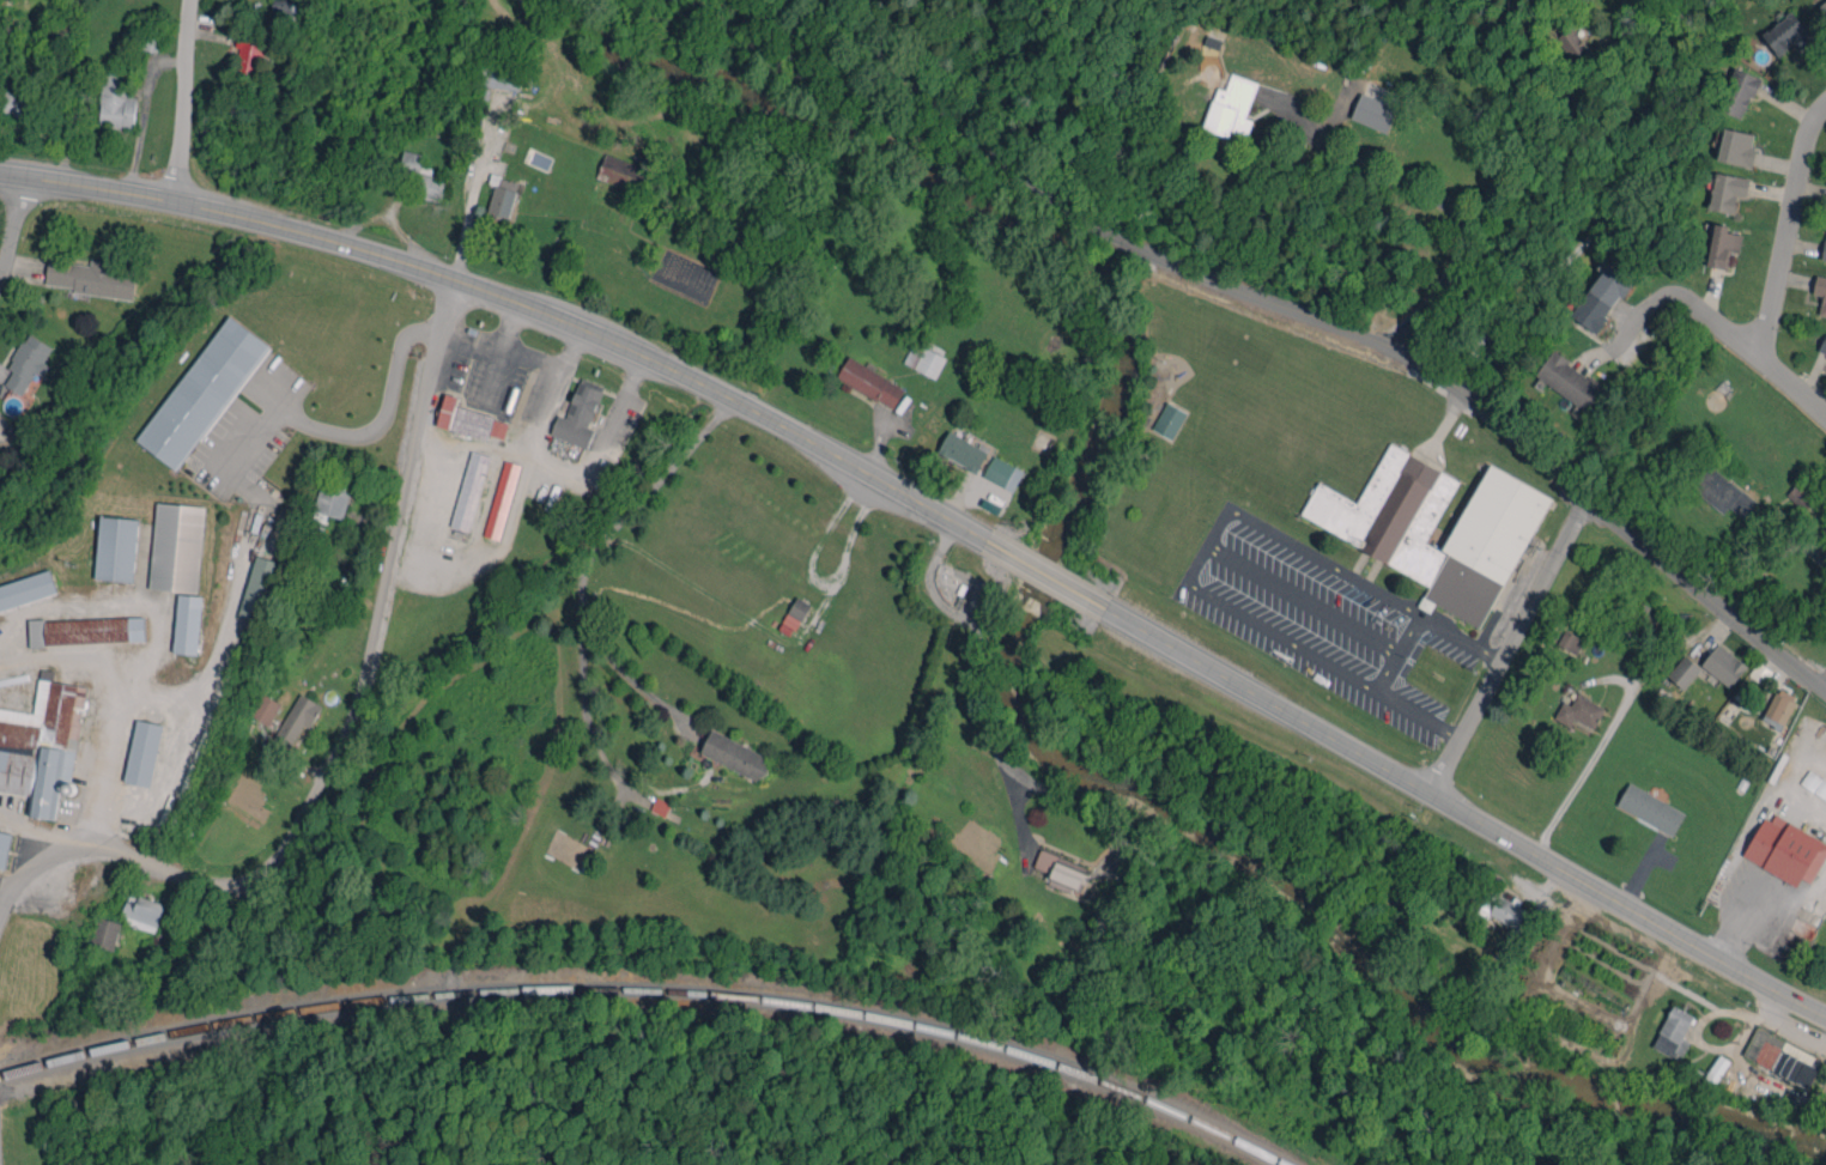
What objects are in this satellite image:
building: (1824, 6)
building: (285, 10)
building: (1788, 34)
building: (1572, 43)
building: (248, 56)
building: (502, 78)
building: (1737, 92)
building: (478, 97)
road: (182, 98)
building: (116, 99)
building: (17, 104)
building: (1231, 107)
building: (1373, 113)
building: (1736, 147)
building: (623, 172)
building: (423, 176)
building: (1727, 192)
road: (1440, 198)
road: (16, 229)
road: (1590, 237)
building: (1722, 245)
building: (1825, 254)
road: (1778, 269)
building: (90, 278)
building: (1820, 291)
building: (1601, 297)
road: (512, 298)
road: (1681, 298)
road: (1335, 330)
road: (504, 345)
building: (1822, 346)
building: (926, 358)
building: (26, 363)
building: (1570, 381)
building: (870, 382)
building: (202, 393)
building: (578, 414)
building: (469, 420)
building: (1169, 420)
building: (963, 451)
road: (554, 466)
building: (1003, 473)
building: (469, 491)
building: (1722, 492)
building: (333, 499)
building: (502, 499)
building: (1381, 529)
road: (1212, 545)
building: (177, 547)
building: (116, 548)
road: (239, 552)
road: (590, 553)
road: (1043, 574)
building: (259, 588)
building: (26, 589)
building: (794, 615)
building: (188, 624)
building: (86, 631)
road: (1461, 637)
building: (1571, 641)
road: (1509, 647)
road: (1399, 651)
road: (62, 657)
building: (1723, 665)
building: (1684, 672)
road: (971, 678)
road: (1819, 679)
road: (1266, 699)
road: (354, 703)
building: (1779, 708)
building: (265, 709)
road: (1420, 711)
building: (1579, 711)
road: (1614, 716)
building: (297, 718)
building: (42, 745)
building: (142, 752)
building: (735, 756)
road: (1800, 801)
building: (660, 806)
building: (1650, 808)
road: (1757, 814)
building: (5, 848)
building: (1786, 850)
road: (41, 861)
building: (1061, 872)
road: (1794, 897)
road: (1626, 904)
building: (1503, 911)
building: (144, 912)
road: (1740, 930)
building: (105, 932)
railway: (654, 987)
building: (1674, 1032)
building: (1772, 1049)
building: (1795, 1069)
building: (1716, 1070)

